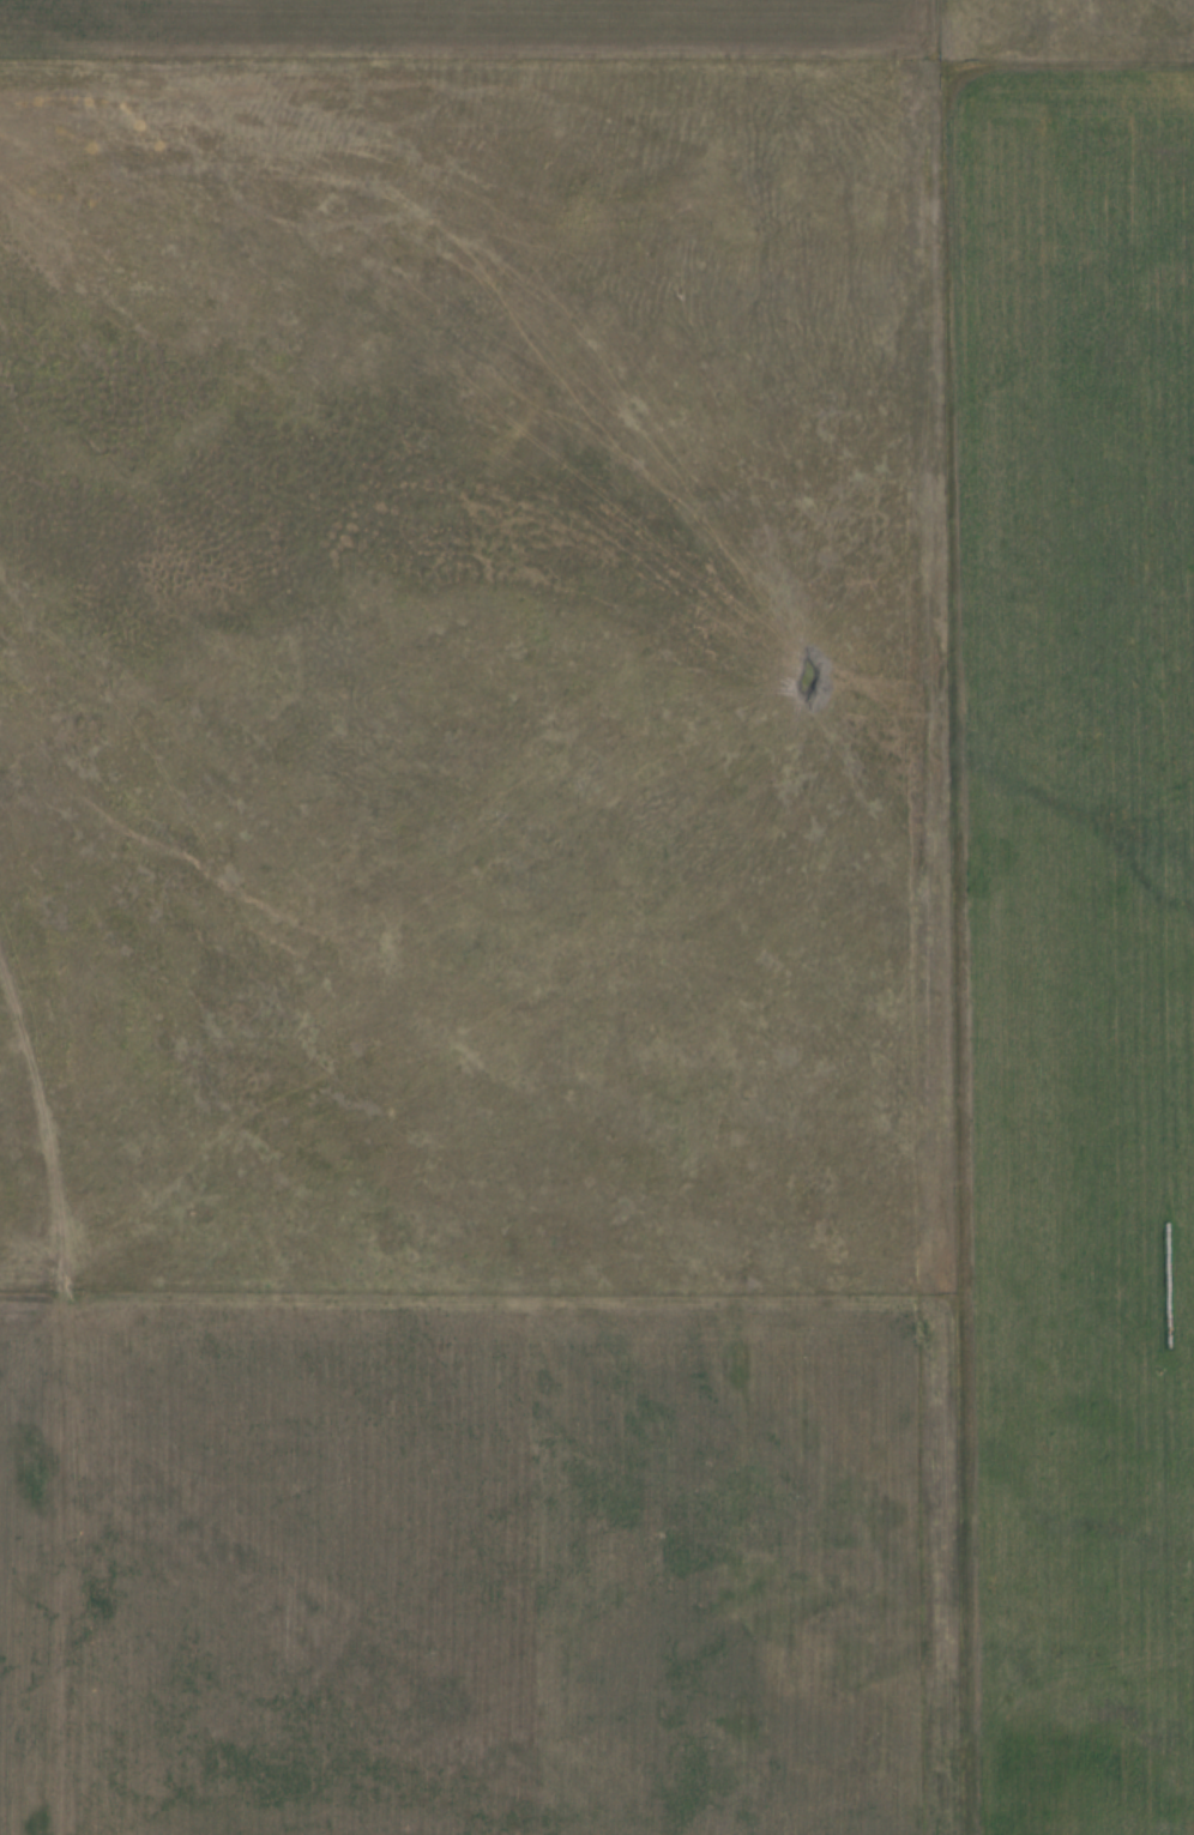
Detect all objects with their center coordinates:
road: (936, 917)

